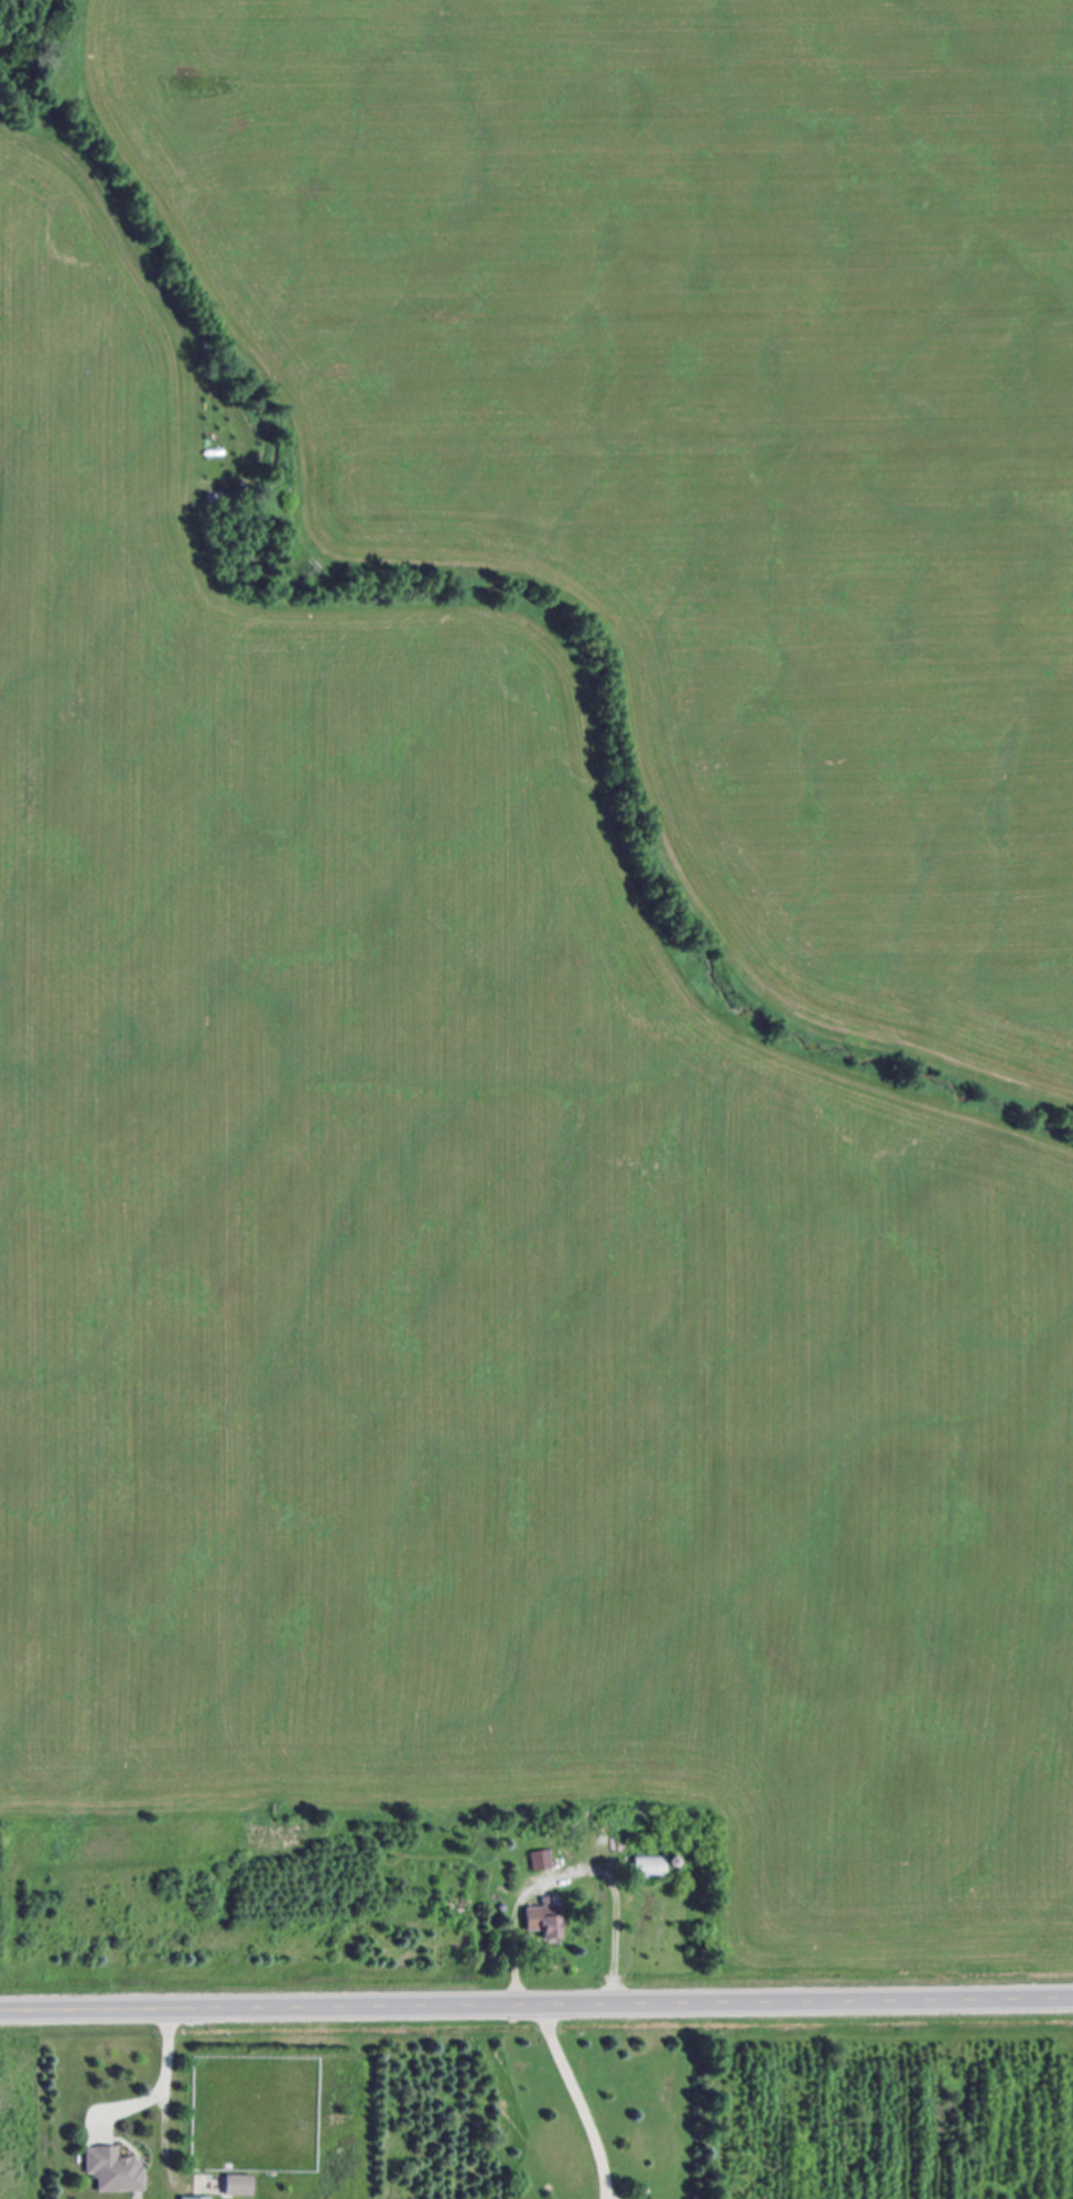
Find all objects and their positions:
building: (541, 1860)
building: (651, 1866)
road: (573, 1875)
building: (546, 1921)
road: (536, 2002)
road: (163, 2078)
road: (578, 2099)
building: (115, 2170)
building: (241, 2185)

